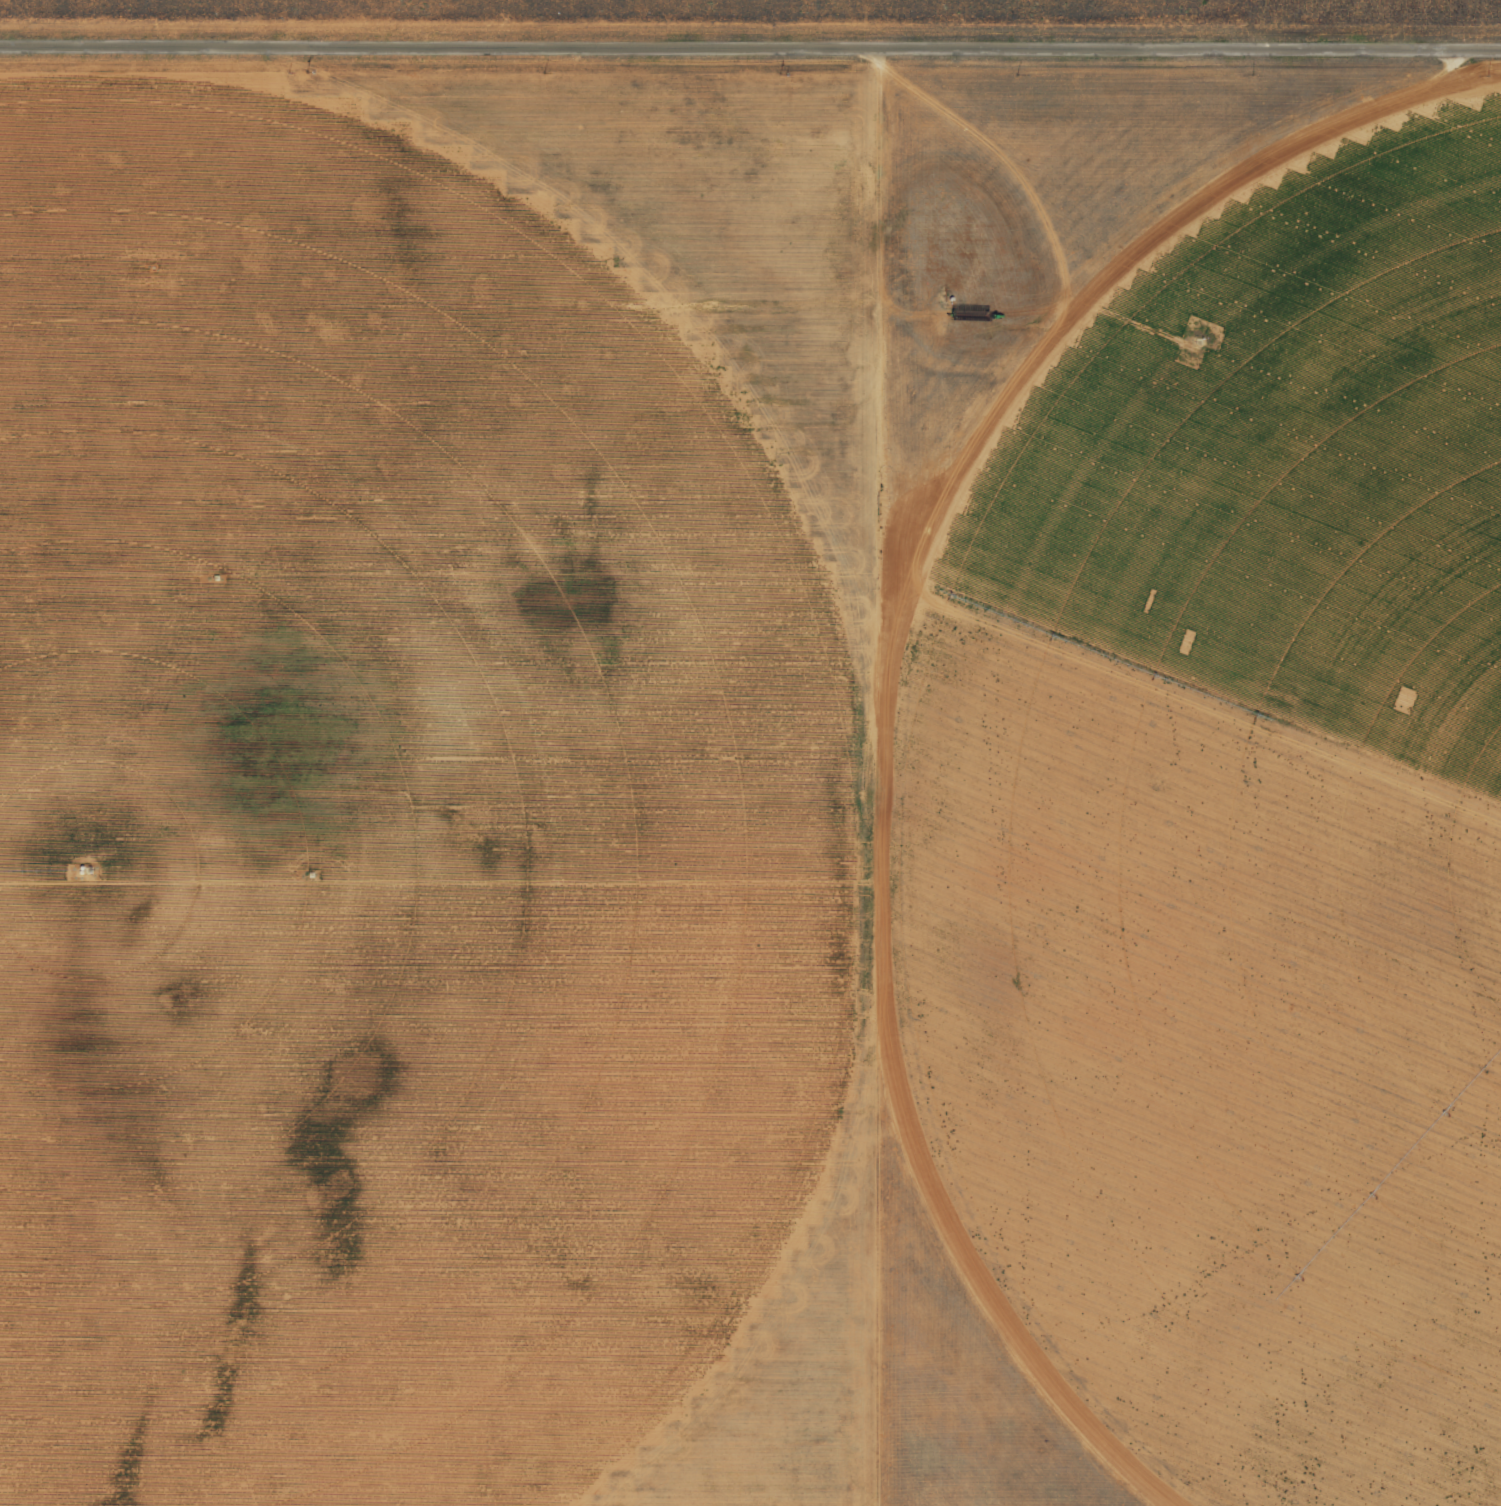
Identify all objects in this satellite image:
road: (750, 45)

